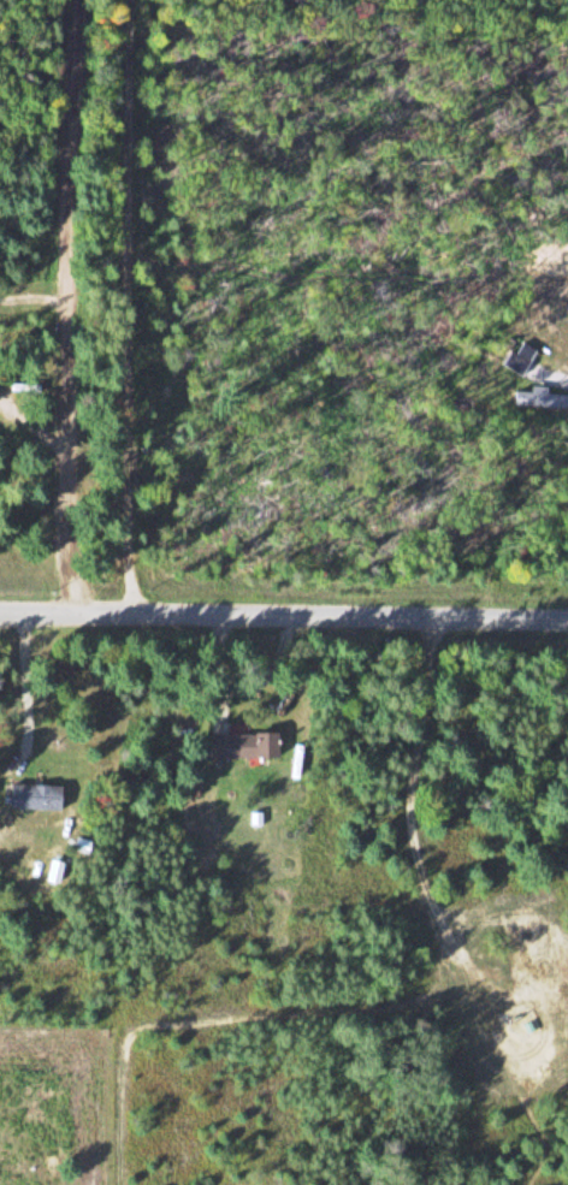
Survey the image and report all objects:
road: (75, 309)
building: (540, 404)
road: (283, 618)
building: (242, 745)
building: (34, 796)

